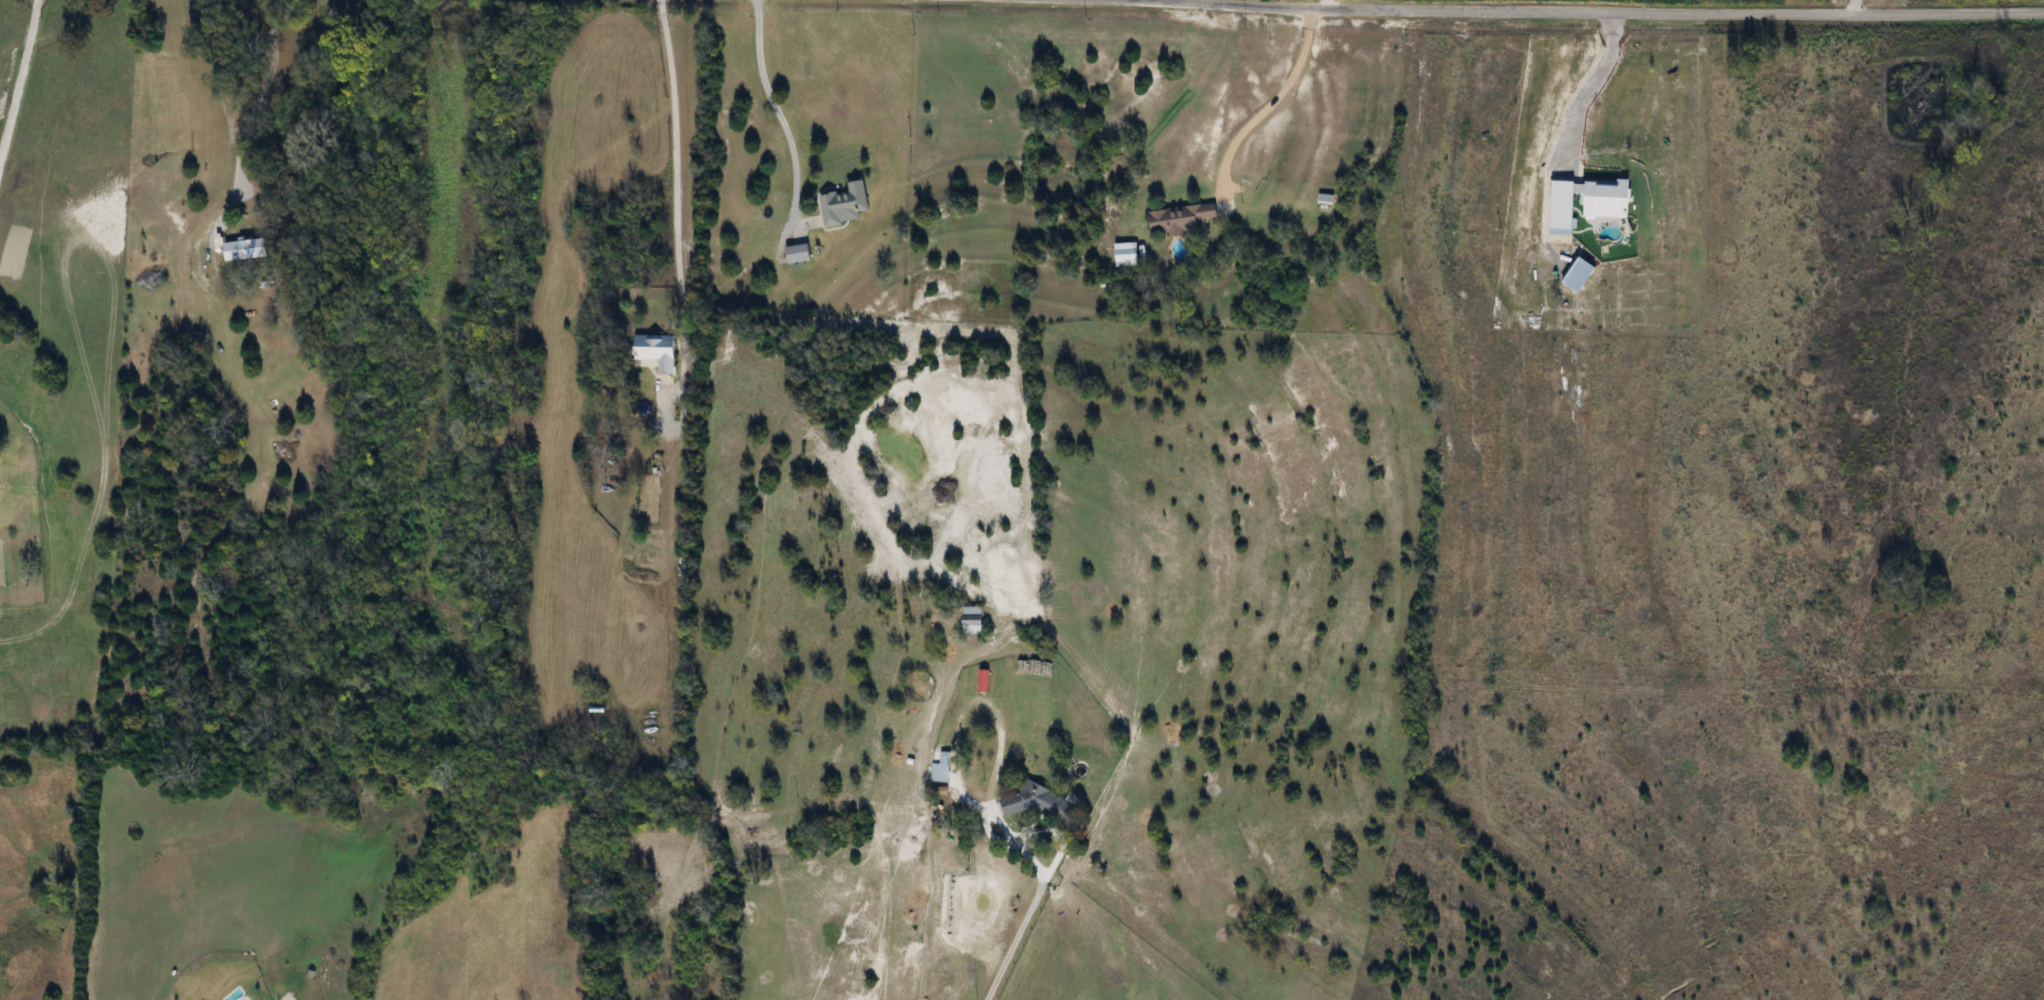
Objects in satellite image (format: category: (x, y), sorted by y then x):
road: (1853, 6)
road: (1590, 10)
road: (18, 76)
road: (1589, 80)
road: (771, 94)
road: (1274, 104)
road: (251, 120)
road: (674, 146)
building: (1180, 219)
building: (245, 249)
building: (212, 253)
building: (1126, 254)
building: (656, 353)
building: (972, 620)
building: (941, 768)
building: (1040, 803)
road: (1035, 824)
road: (1015, 936)

